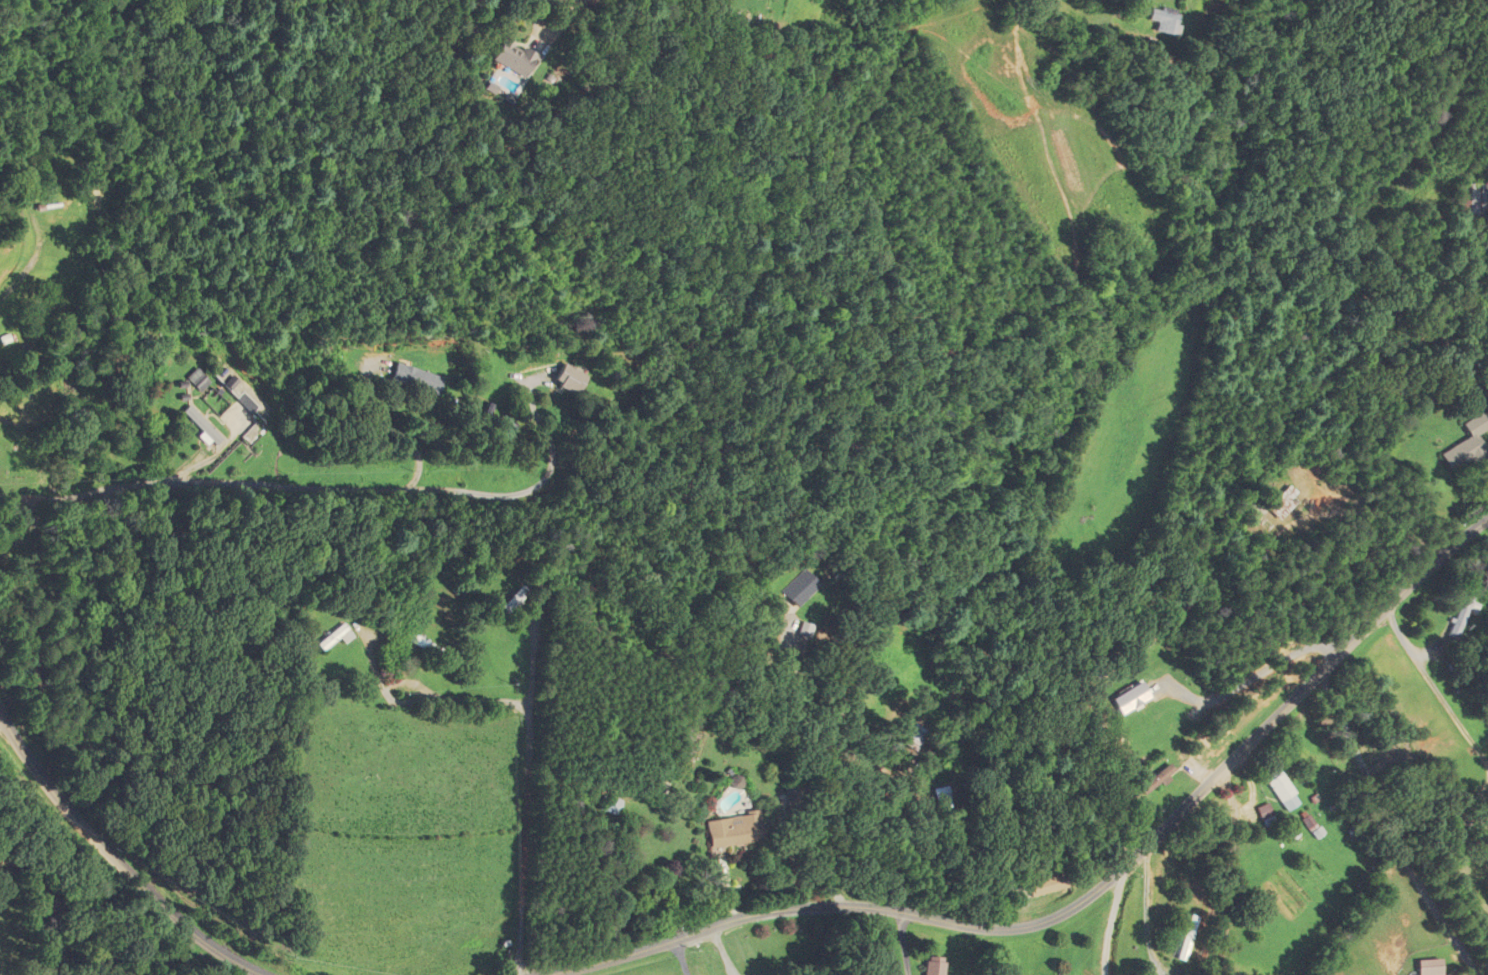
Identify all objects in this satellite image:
building: (1166, 22)
road: (558, 26)
building: (511, 58)
building: (1470, 202)
road: (33, 259)
building: (418, 378)
building: (571, 378)
building: (202, 381)
road: (535, 413)
building: (207, 426)
road: (393, 428)
building: (1466, 446)
road: (282, 486)
building: (1285, 501)
building: (800, 587)
building: (1461, 615)
building: (335, 637)
building: (431, 647)
road: (1433, 688)
building: (912, 739)
road: (831, 767)
building: (1157, 780)
building: (1277, 785)
road: (1373, 790)
road: (526, 793)
building: (609, 805)
building: (1262, 814)
building: (733, 830)
road: (119, 862)
building: (1050, 885)
road: (1082, 902)
building: (1188, 937)
road: (905, 943)
road: (682, 957)
building: (933, 965)
building: (1428, 967)

